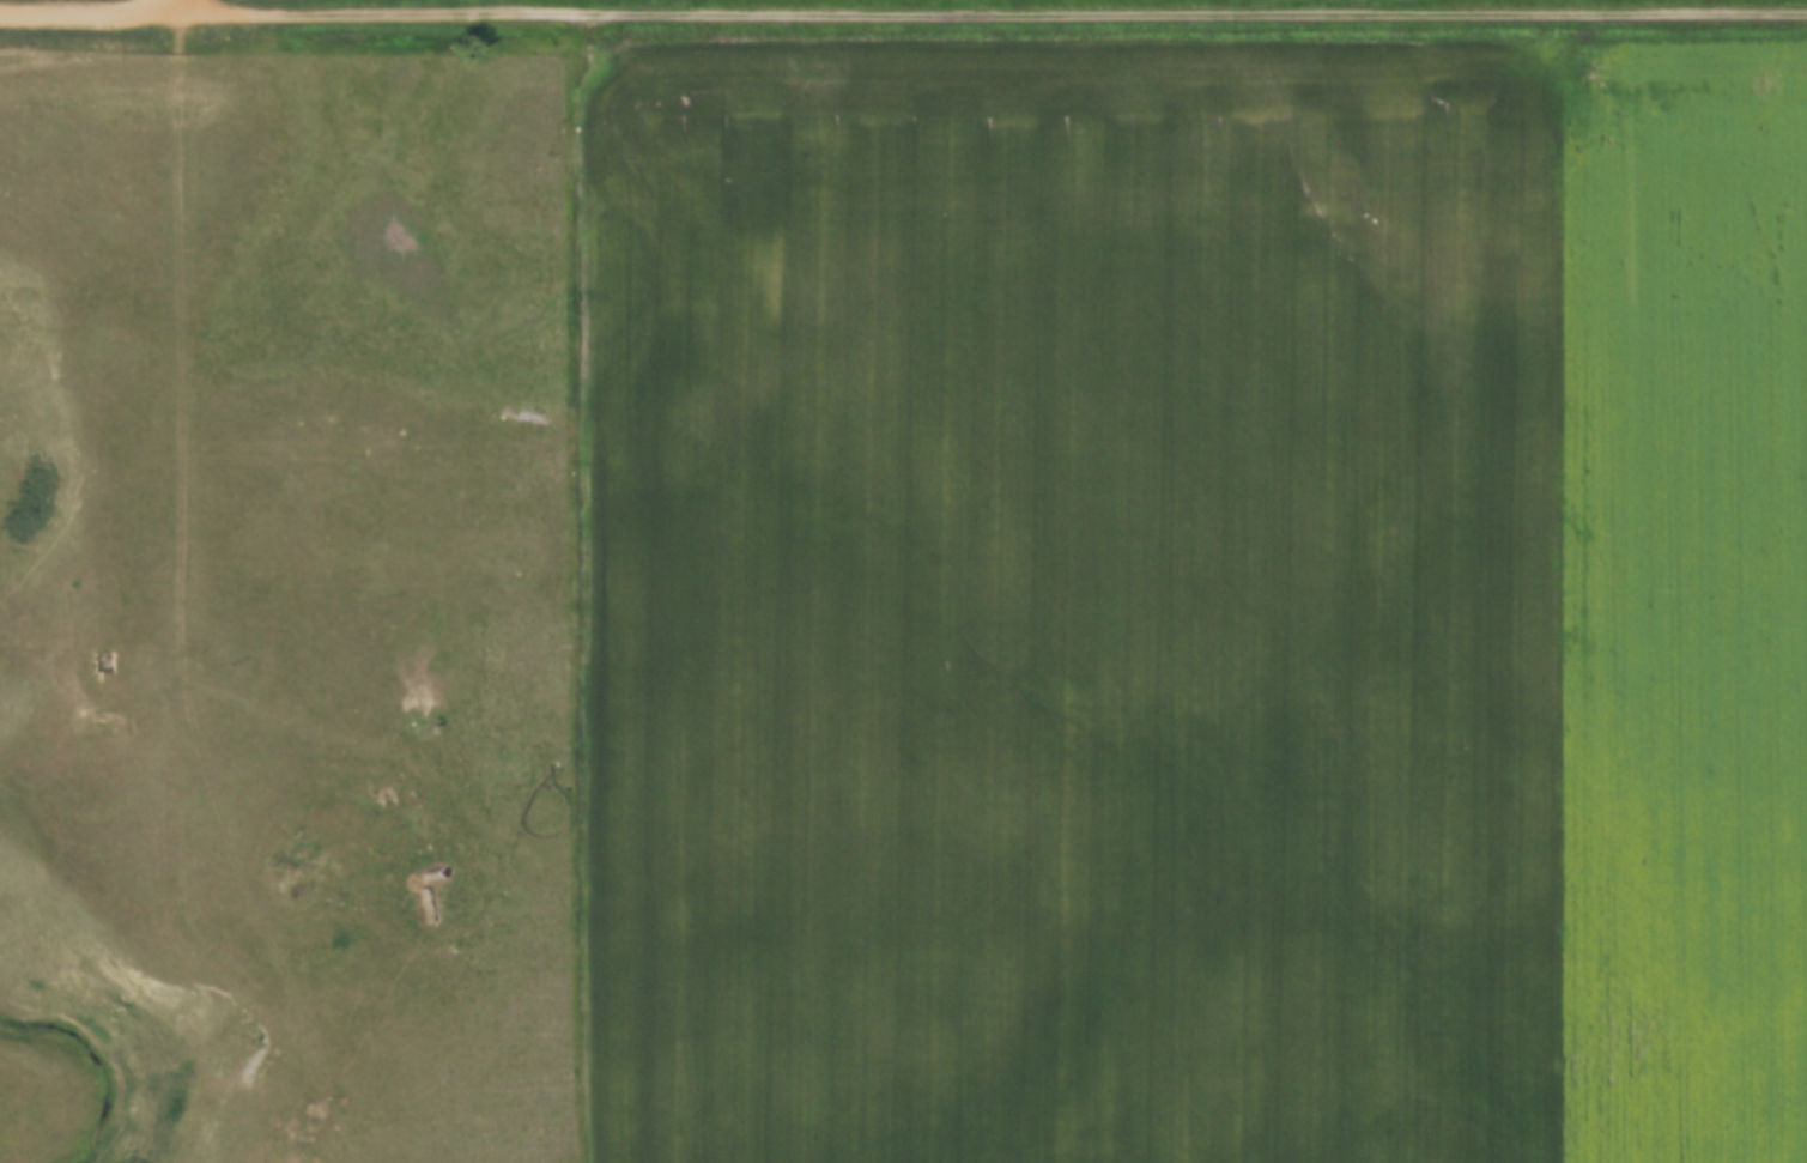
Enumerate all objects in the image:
road: (177, 6)
road: (903, 11)
road: (598, 586)

